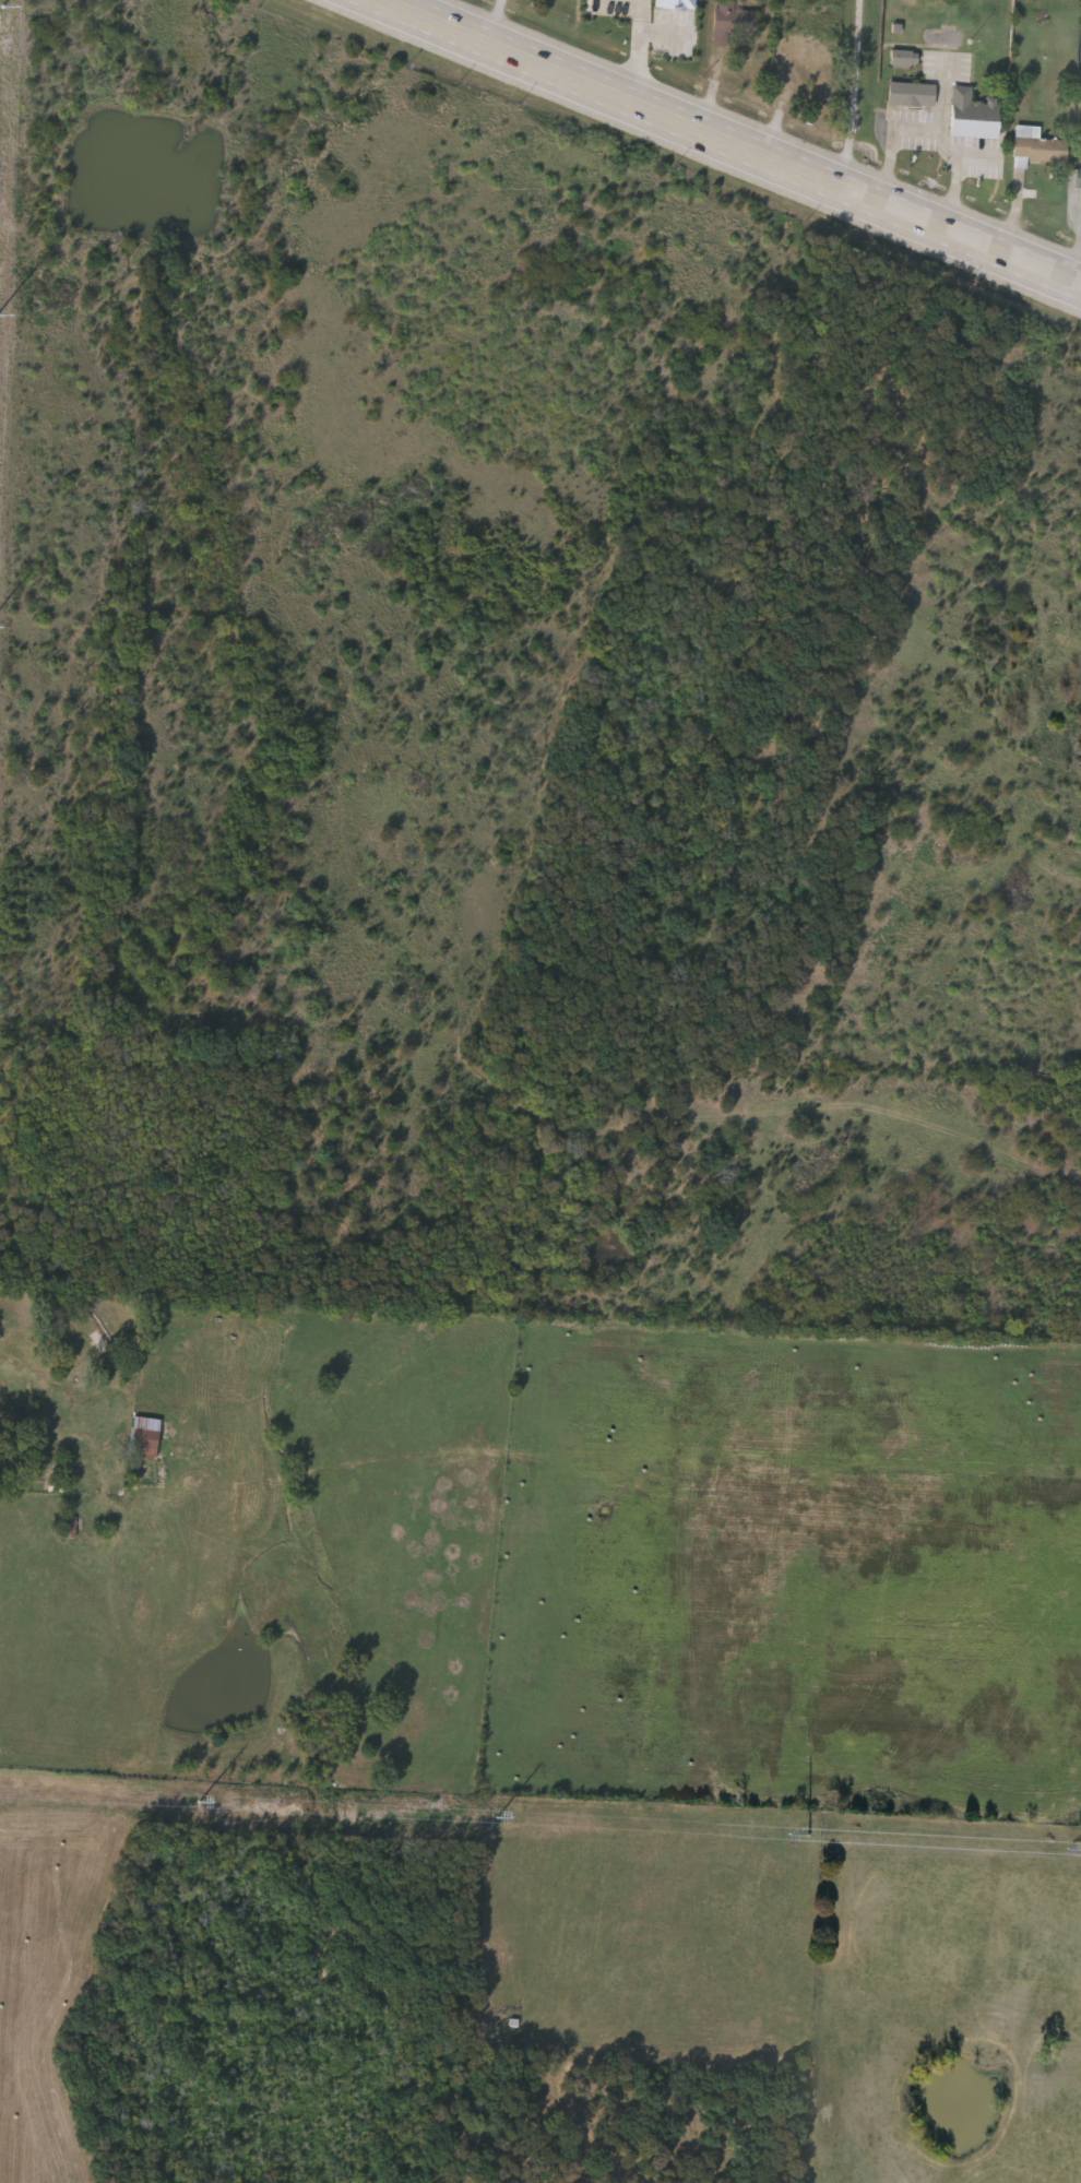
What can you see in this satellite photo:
building: (675, 5)
road: (492, 23)
building: (735, 26)
road: (640, 51)
building: (806, 57)
building: (903, 62)
road: (844, 94)
building: (911, 97)
building: (973, 118)
road: (914, 129)
road: (726, 145)
building: (1036, 150)
road: (977, 159)
road: (955, 180)
building: (1079, 182)
road: (1076, 212)
road: (1077, 249)
building: (145, 1439)

